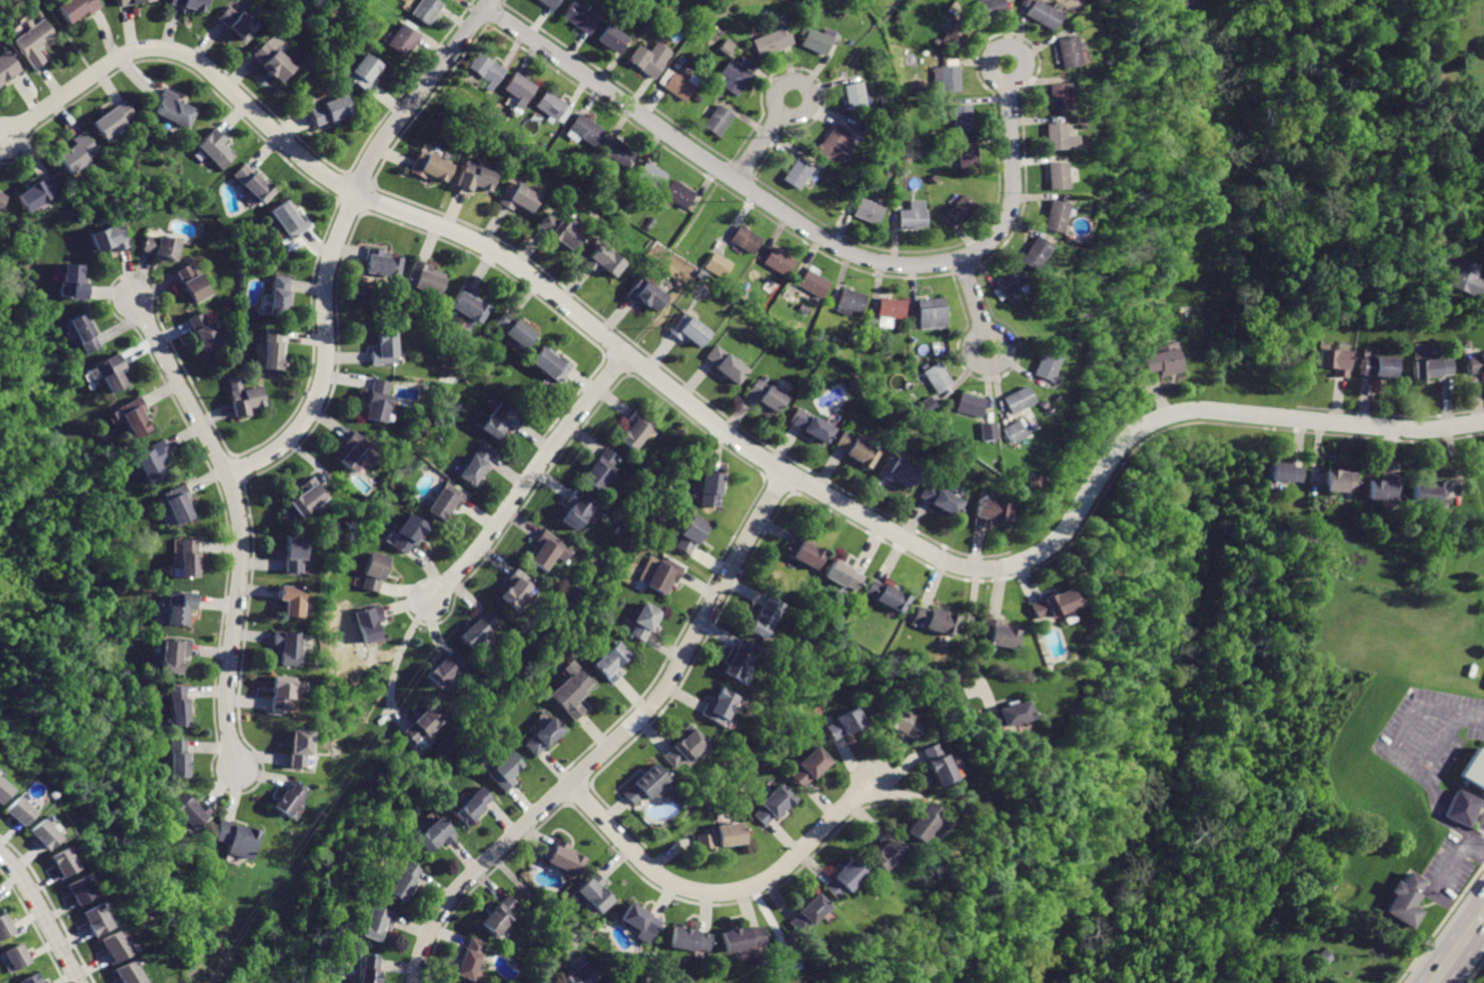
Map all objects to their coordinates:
building: (130, 2)
building: (1065, 3)
building: (543, 4)
building: (190, 6)
building: (78, 8)
building: (987, 9)
building: (424, 11)
building: (1037, 17)
building: (579, 18)
building: (235, 23)
building: (952, 34)
building: (609, 40)
building: (769, 40)
building: (401, 42)
building: (812, 44)
building: (32, 45)
building: (1060, 51)
building: (645, 58)
building: (270, 62)
building: (6, 68)
building: (484, 71)
building: (359, 73)
building: (946, 78)
road: (137, 79)
building: (734, 79)
building: (676, 88)
building: (515, 89)
building: (1054, 96)
building: (852, 97)
building: (551, 106)
building: (172, 108)
building: (327, 110)
building: (114, 118)
building: (959, 118)
building: (720, 119)
building: (584, 130)
building: (1057, 137)
road: (766, 139)
building: (829, 143)
building: (214, 146)
building: (79, 149)
building: (620, 153)
building: (966, 157)
building: (428, 167)
building: (651, 175)
building: (797, 175)
building: (1055, 175)
building: (470, 177)
building: (251, 184)
building: (35, 192)
building: (677, 192)
building: (513, 198)
building: (2, 199)
building: (865, 208)
building: (960, 209)
building: (912, 216)
building: (1052, 217)
building: (289, 219)
road: (735, 223)
road: (803, 225)
building: (555, 230)
road: (339, 239)
building: (746, 239)
building: (108, 240)
building: (160, 246)
building: (1034, 251)
building: (598, 261)
building: (778, 263)
building: (380, 265)
building: (716, 266)
building: (426, 279)
building: (1464, 279)
building: (1008, 280)
building: (73, 282)
building: (191, 282)
building: (813, 282)
road: (1483, 290)
building: (641, 294)
building: (279, 295)
building: (848, 300)
building: (468, 304)
road: (971, 304)
building: (887, 308)
building: (929, 311)
building: (515, 328)
building: (684, 329)
building: (202, 331)
building: (83, 334)
building: (271, 347)
building: (381, 350)
building: (1159, 358)
building: (1336, 363)
building: (1043, 364)
building: (551, 365)
building: (724, 365)
building: (1475, 366)
building: (1380, 368)
building: (1431, 368)
building: (108, 376)
building: (935, 377)
building: (242, 396)
building: (765, 396)
building: (375, 398)
building: (1016, 399)
building: (969, 404)
building: (924, 408)
building: (496, 417)
building: (133, 418)
building: (809, 425)
building: (636, 426)
road: (721, 429)
building: (1013, 429)
building: (986, 433)
building: (352, 447)
building: (857, 448)
building: (153, 459)
building: (476, 463)
building: (601, 465)
building: (898, 471)
building: (1283, 472)
road: (528, 478)
building: (1344, 479)
building: (1031, 480)
building: (1388, 486)
building: (711, 488)
building: (1434, 490)
building: (305, 496)
building: (939, 498)
building: (443, 500)
building: (175, 502)
building: (576, 510)
building: (988, 510)
road: (239, 523)
building: (406, 535)
building: (690, 537)
building: (550, 548)
building: (805, 550)
building: (293, 552)
building: (189, 557)
building: (371, 571)
building: (666, 575)
building: (843, 576)
building: (514, 587)
building: (887, 595)
building: (291, 599)
building: (1047, 602)
building: (181, 605)
building: (766, 615)
building: (642, 620)
building: (935, 620)
building: (368, 622)
building: (479, 628)
building: (996, 633)
road: (968, 641)
building: (288, 646)
building: (175, 653)
building: (741, 657)
road: (395, 659)
building: (610, 661)
building: (446, 667)
building: (279, 690)
building: (573, 693)
building: (177, 706)
building: (717, 707)
road: (1462, 715)
building: (1005, 716)
building: (844, 723)
building: (903, 724)
building: (418, 726)
building: (542, 735)
road: (615, 740)
building: (297, 747)
building: (681, 747)
building: (179, 756)
building: (937, 763)
building: (809, 768)
building: (1475, 768)
building: (504, 772)
building: (642, 784)
building: (4, 789)
building: (290, 799)
building: (471, 804)
building: (769, 806)
building: (1464, 807)
building: (16, 810)
building: (193, 812)
building: (922, 819)
building: (434, 833)
building: (39, 834)
building: (713, 836)
building: (237, 837)
building: (884, 849)
road: (1483, 849)
building: (562, 855)
building: (60, 863)
building: (838, 878)
building: (404, 880)
building: (76, 890)
building: (590, 892)
road: (721, 893)
building: (1405, 899)
road: (538, 901)
building: (803, 910)
road: (45, 913)
building: (500, 915)
building: (93, 919)
building: (638, 919)
building: (377, 923)
building: (5, 926)
road: (773, 932)
building: (734, 937)
building: (687, 938)
building: (110, 948)
road: (1460, 950)
building: (17, 957)
building: (472, 959)
building: (369, 969)
building: (578, 969)
building: (127, 973)
road: (638, 973)
building: (33, 979)
building: (807, 981)

